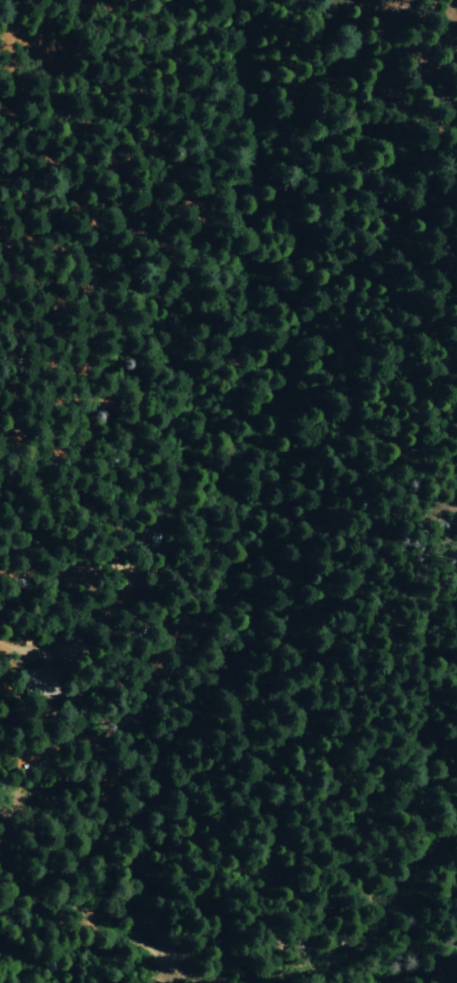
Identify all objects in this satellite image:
road: (154, 584)
building: (42, 682)
road: (372, 937)
road: (103, 941)

